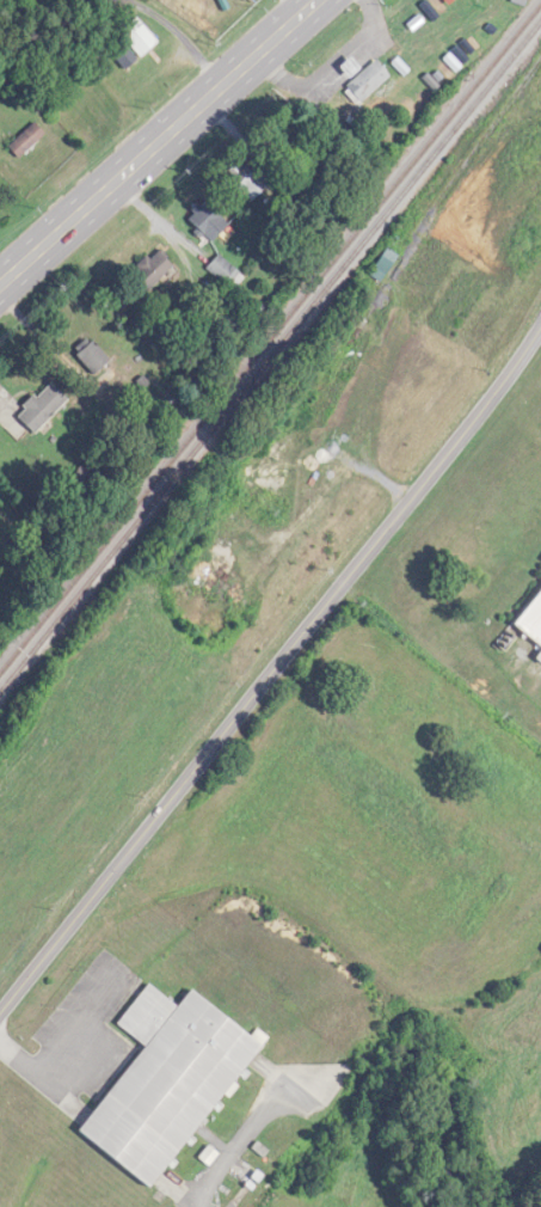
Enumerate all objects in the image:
road: (305, 2)
building: (199, 7)
road: (180, 36)
building: (141, 38)
building: (370, 80)
building: (27, 140)
road: (155, 141)
building: (251, 180)
building: (209, 219)
building: (155, 269)
building: (227, 271)
railway: (271, 337)
railway: (270, 353)
building: (93, 357)
building: (44, 408)
building: (530, 621)
road: (271, 672)
building: (164, 1083)
road: (240, 1135)

